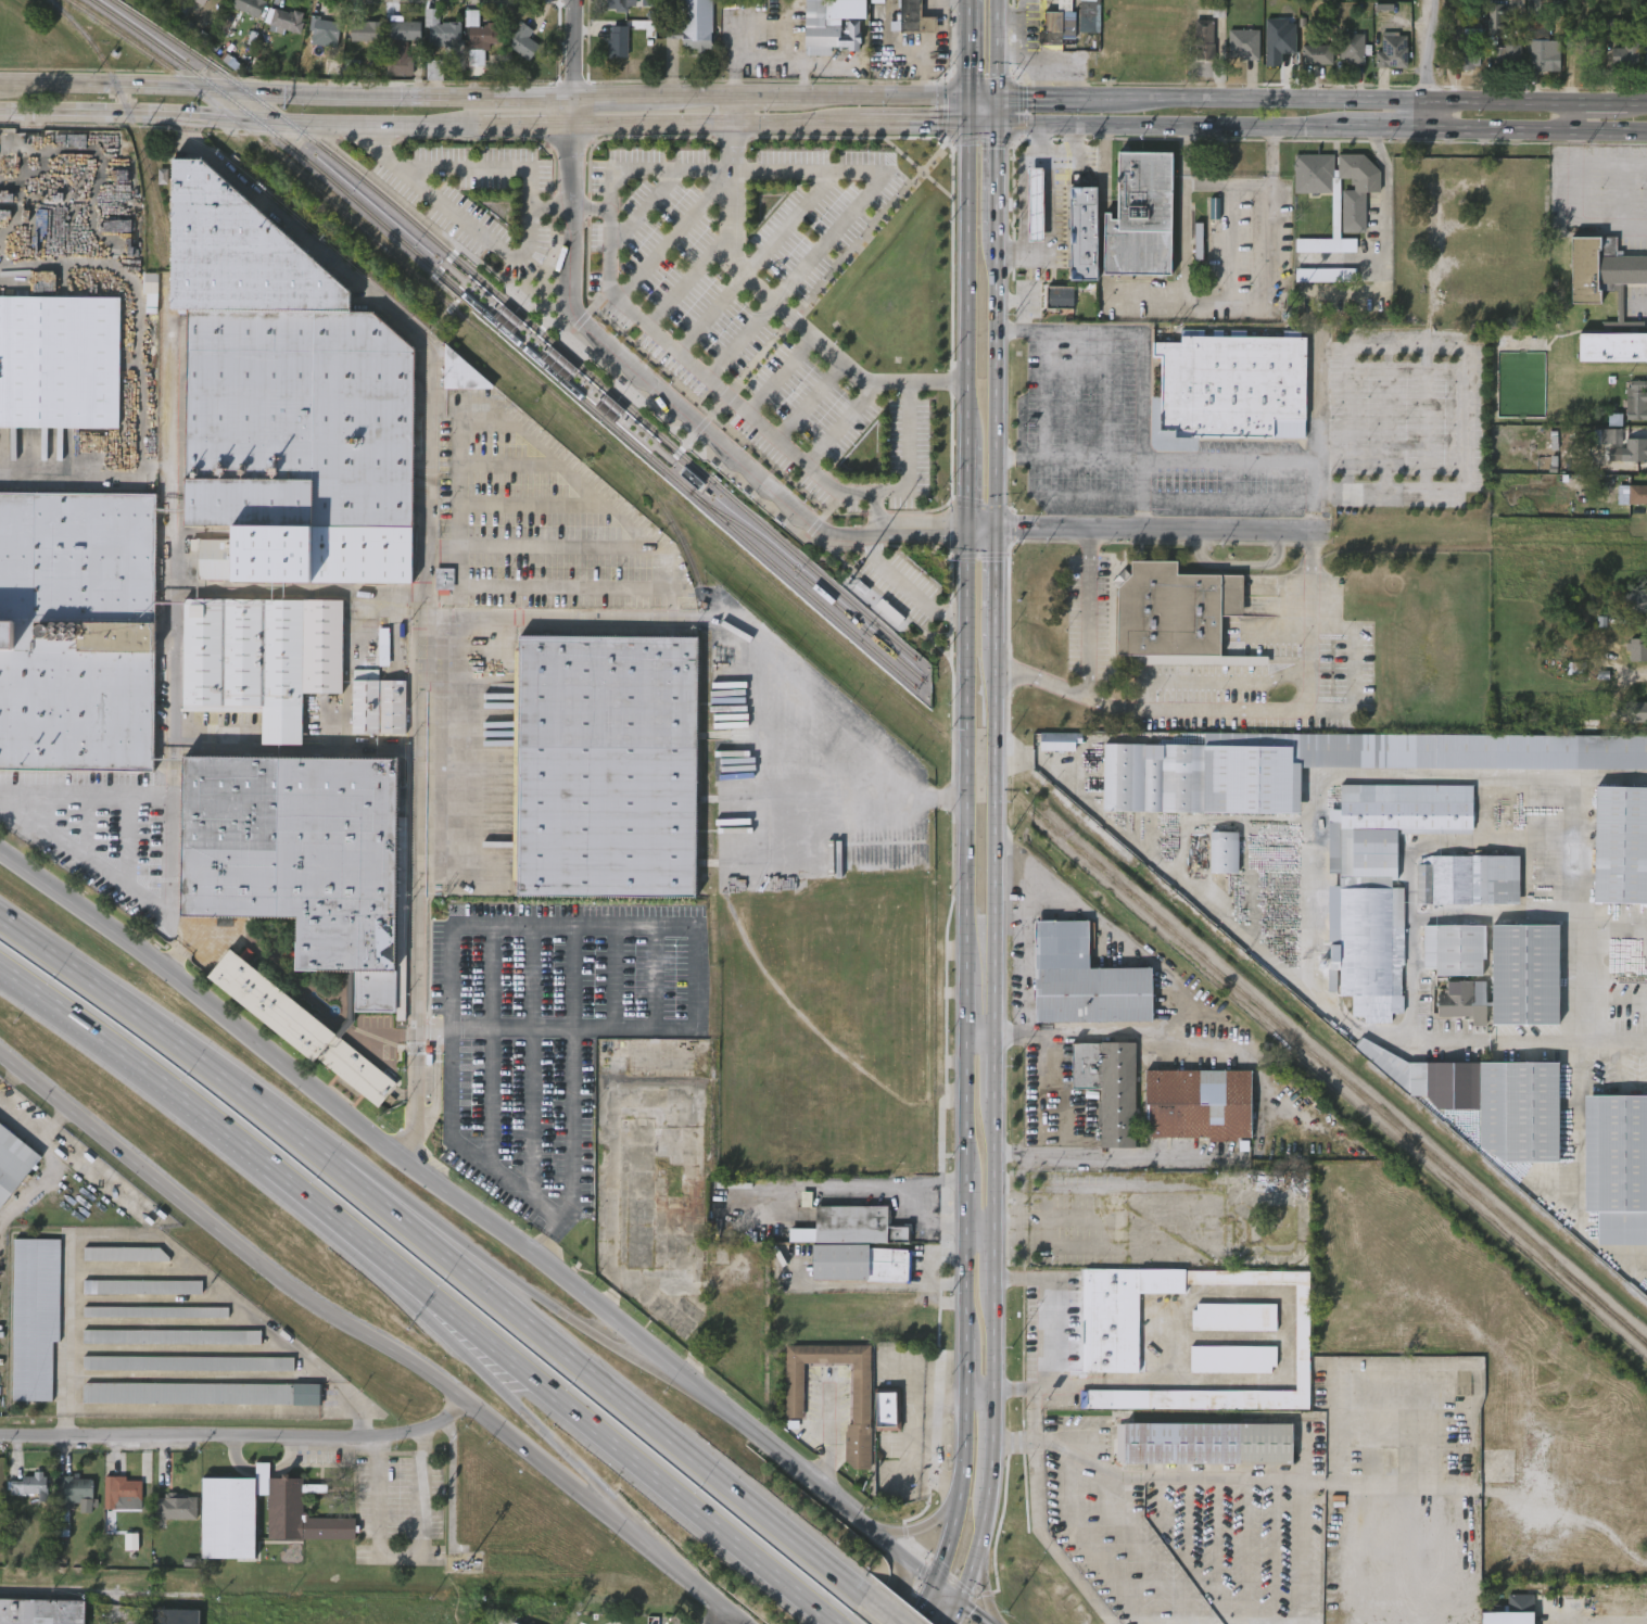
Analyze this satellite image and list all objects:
building: (164, 3)
building: (619, 4)
building: (202, 7)
building: (246, 7)
building: (870, 8)
building: (1089, 15)
building: (241, 17)
building: (912, 18)
building: (282, 21)
building: (1057, 24)
building: (900, 27)
building: (321, 30)
building: (365, 31)
building: (826, 33)
building: (443, 34)
building: (483, 34)
building: (279, 35)
building: (687, 35)
building: (1203, 39)
building: (617, 41)
building: (522, 42)
building: (434, 43)
building: (472, 43)
building: (1242, 43)
building: (357, 45)
building: (318, 46)
building: (400, 46)
road: (963, 47)
road: (996, 47)
road: (578, 48)
building: (1352, 48)
building: (1541, 48)
building: (1196, 50)
building: (1391, 51)
building: (1315, 53)
building: (1505, 53)
building: (611, 55)
building: (1625, 55)
building: (517, 56)
building: (1236, 58)
building: (1644, 59)
building: (1465, 60)
building: (1584, 61)
building: (1344, 62)
road: (1422, 63)
building: (1385, 65)
building: (1309, 68)
building: (1536, 68)
building: (1618, 68)
road: (732, 71)
building: (1496, 71)
building: (470, 72)
building: (1644, 72)
building: (1461, 75)
road: (981, 79)
road: (288, 92)
traffic signals: (963, 94)
road: (979, 94)
traffic signals: (996, 94)
road: (770, 96)
road: (1321, 98)
road: (1018, 106)
road: (943, 107)
road: (994, 109)
road: (577, 112)
road: (288, 122)
railway: (130, 124)
road: (187, 124)
traffic signals: (963, 124)
traffic signals: (994, 124)
road: (785, 125)
road: (1320, 127)
road: (1040, 136)
road: (943, 138)
road: (978, 138)
road: (1014, 140)
road: (575, 168)
road: (918, 169)
road: (1019, 177)
road: (994, 180)
road: (1226, 185)
building: (1305, 187)
building: (1333, 192)
railway: (390, 202)
parking lot: (481, 202)
road: (611, 202)
road: (1571, 202)
building: (1032, 203)
gas station: (1032, 203)
building: (1348, 204)
road: (645, 208)
road: (553, 210)
road: (593, 211)
railway: (369, 214)
road: (1049, 215)
building: (1140, 217)
building: (1328, 220)
building: (1080, 232)
road: (300, 233)
road: (675, 236)
railway: (447, 242)
road: (1383, 245)
road: (524, 252)
building: (1318, 258)
road: (1342, 261)
road: (756, 263)
railway: (467, 275)
road: (691, 279)
road: (444, 288)
building: (1318, 288)
building: (1585, 295)
building: (1059, 299)
building: (143, 304)
parking lot: (760, 307)
road: (785, 310)
building: (1052, 310)
road: (965, 313)
road: (1130, 332)
building: (1609, 360)
road: (1462, 361)
building: (56, 363)
road: (135, 368)
building: (459, 373)
road: (782, 376)
road: (997, 381)
building: (1232, 388)
road: (1043, 394)
road: (811, 401)
building: (1635, 401)
building: (281, 404)
road: (680, 407)
road: (713, 417)
road: (840, 427)
building: (1627, 444)
road: (1187, 461)
building: (1636, 462)
road: (1140, 479)
building: (1637, 494)
road: (1091, 496)
road: (1226, 498)
railway: (660, 507)
building: (1627, 508)
road: (1140, 511)
road: (876, 513)
road: (1156, 525)
traffic signals: (999, 528)
road: (984, 529)
traffic signals: (968, 531)
road: (922, 533)
railway: (781, 543)
road: (1242, 560)
railway: (773, 566)
building: (444, 579)
railway: (808, 580)
road: (998, 587)
road: (907, 589)
parking lot: (908, 591)
building: (438, 593)
building: (1636, 600)
building: (1183, 608)
road: (735, 624)
road: (1287, 626)
building: (77, 632)
building: (382, 646)
building: (1636, 650)
building: (259, 657)
road: (1098, 658)
building: (376, 660)
building: (1630, 662)
railway: (863, 663)
road: (1361, 670)
building: (1157, 672)
road: (1222, 675)
road: (419, 696)
building: (376, 702)
road: (1288, 702)
building: (1635, 712)
building: (1634, 725)
building: (1596, 727)
building: (1060, 740)
road: (229, 749)
building: (1052, 754)
building: (604, 765)
building: (1325, 765)
road: (142, 798)
road: (85, 829)
road: (997, 839)
road: (125, 842)
building: (1621, 845)
building: (1221, 853)
building: (295, 857)
road: (83, 860)
building: (1466, 880)
building: (1379, 884)
road: (1103, 925)
road: (514, 926)
road: (180, 943)
building: (1455, 949)
road: (1026, 953)
building: (1525, 974)
road: (1289, 979)
building: (1085, 980)
road: (1597, 999)
building: (1464, 1001)
building: (297, 1028)
road: (980, 1031)
road: (1171, 1033)
road: (435, 1036)
road: (170, 1039)
road: (490, 1046)
road: (571, 1058)
road: (997, 1065)
road: (963, 1081)
building: (1106, 1087)
road: (434, 1095)
road: (1049, 1096)
building: (1486, 1099)
building: (1194, 1103)
road: (415, 1107)
road: (213, 1121)
road: (36, 1130)
road: (1116, 1158)
building: (12, 1163)
road: (999, 1163)
building: (1618, 1167)
road: (33, 1183)
road: (381, 1192)
road: (1051, 1217)
road: (485, 1220)
road: (983, 1227)
road: (1208, 1245)
road: (540, 1246)
building: (852, 1246)
building: (127, 1253)
road: (1000, 1261)
building: (119, 1267)
road: (521, 1284)
building: (141, 1286)
building: (136, 1299)
building: (154, 1311)
building: (1117, 1314)
building: (1231, 1317)
building: (149, 1324)
road: (451, 1329)
building: (28, 1330)
road: (1054, 1332)
building: (1205, 1332)
building: (169, 1336)
building: (1300, 1336)
road: (371, 1337)
road: (999, 1342)
building: (165, 1349)
building: (1229, 1358)
building: (187, 1363)
road: (656, 1368)
building: (1225, 1371)
building: (181, 1375)
road: (202, 1375)
road: (600, 1381)
road: (980, 1386)
building: (1294, 1387)
road: (937, 1392)
building: (199, 1393)
building: (875, 1404)
building: (180, 1406)
building: (299, 1407)
road: (213, 1410)
road: (534, 1423)
road: (827, 1434)
road: (240, 1437)
building: (1208, 1444)
road: (990, 1446)
road: (934, 1455)
road: (1421, 1455)
road: (628, 1457)
building: (1372, 1461)
road: (1326, 1482)
building: (29, 1485)
building: (175, 1492)
building: (121, 1493)
building: (26, 1500)
building: (68, 1500)
building: (115, 1506)
building: (226, 1506)
road: (613, 1508)
road: (1187, 1518)
building: (172, 1520)
road: (1217, 1531)
road: (920, 1532)
road: (1090, 1544)
road: (1246, 1549)
road: (1274, 1549)
road: (1141, 1550)
road: (1304, 1551)
building: (125, 1553)
road: (976, 1553)
road: (1356, 1569)
road: (898, 1578)
traffic signals: (937, 1579)
road: (984, 1591)
traffic signals: (962, 1601)
road: (884, 1609)
building: (39, 1611)
road: (955, 1612)
road: (976, 1612)
road: (717, 1615)
building: (1508, 1615)
building: (174, 1616)
building: (514, 1623)

